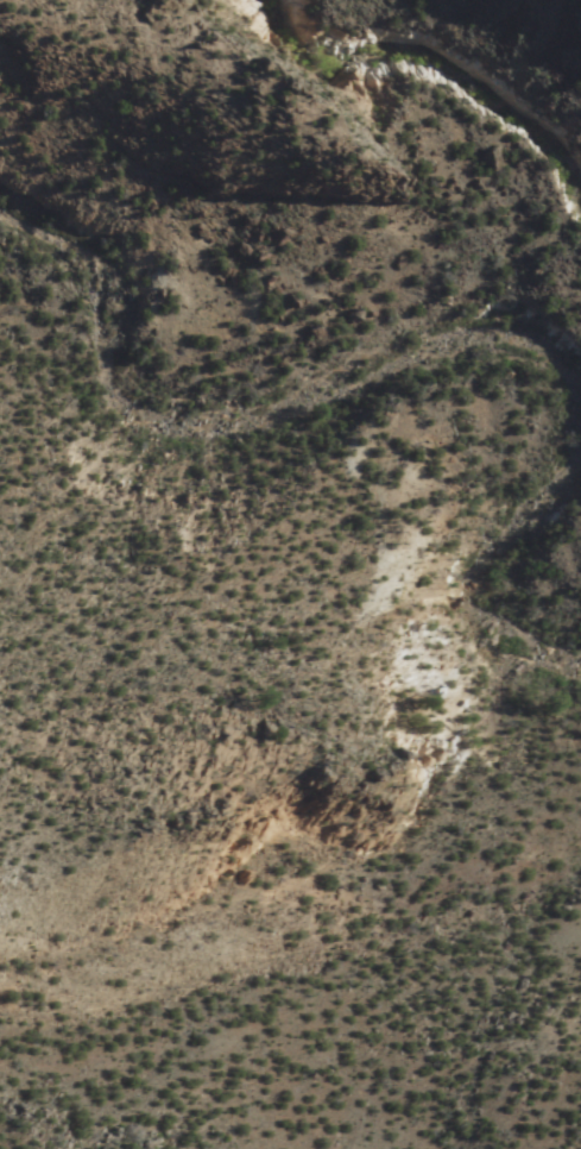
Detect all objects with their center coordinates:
road: (197, 65)
road: (409, 349)

